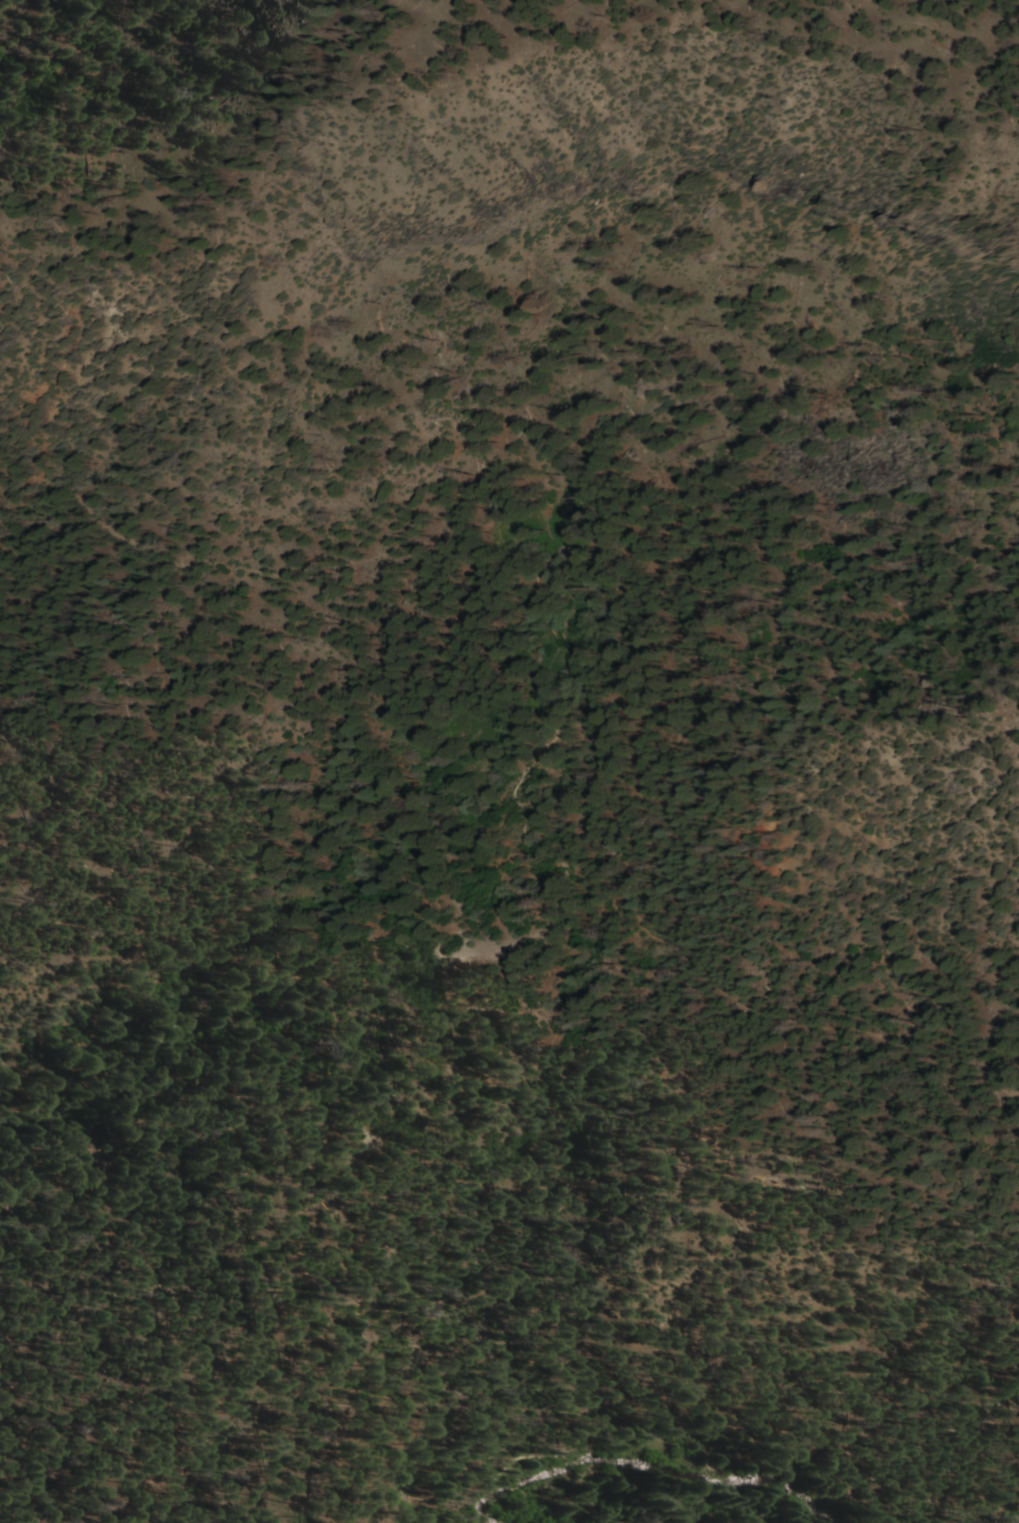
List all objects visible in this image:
road: (912, 28)
road: (248, 167)
road: (589, 646)
road: (254, 973)

